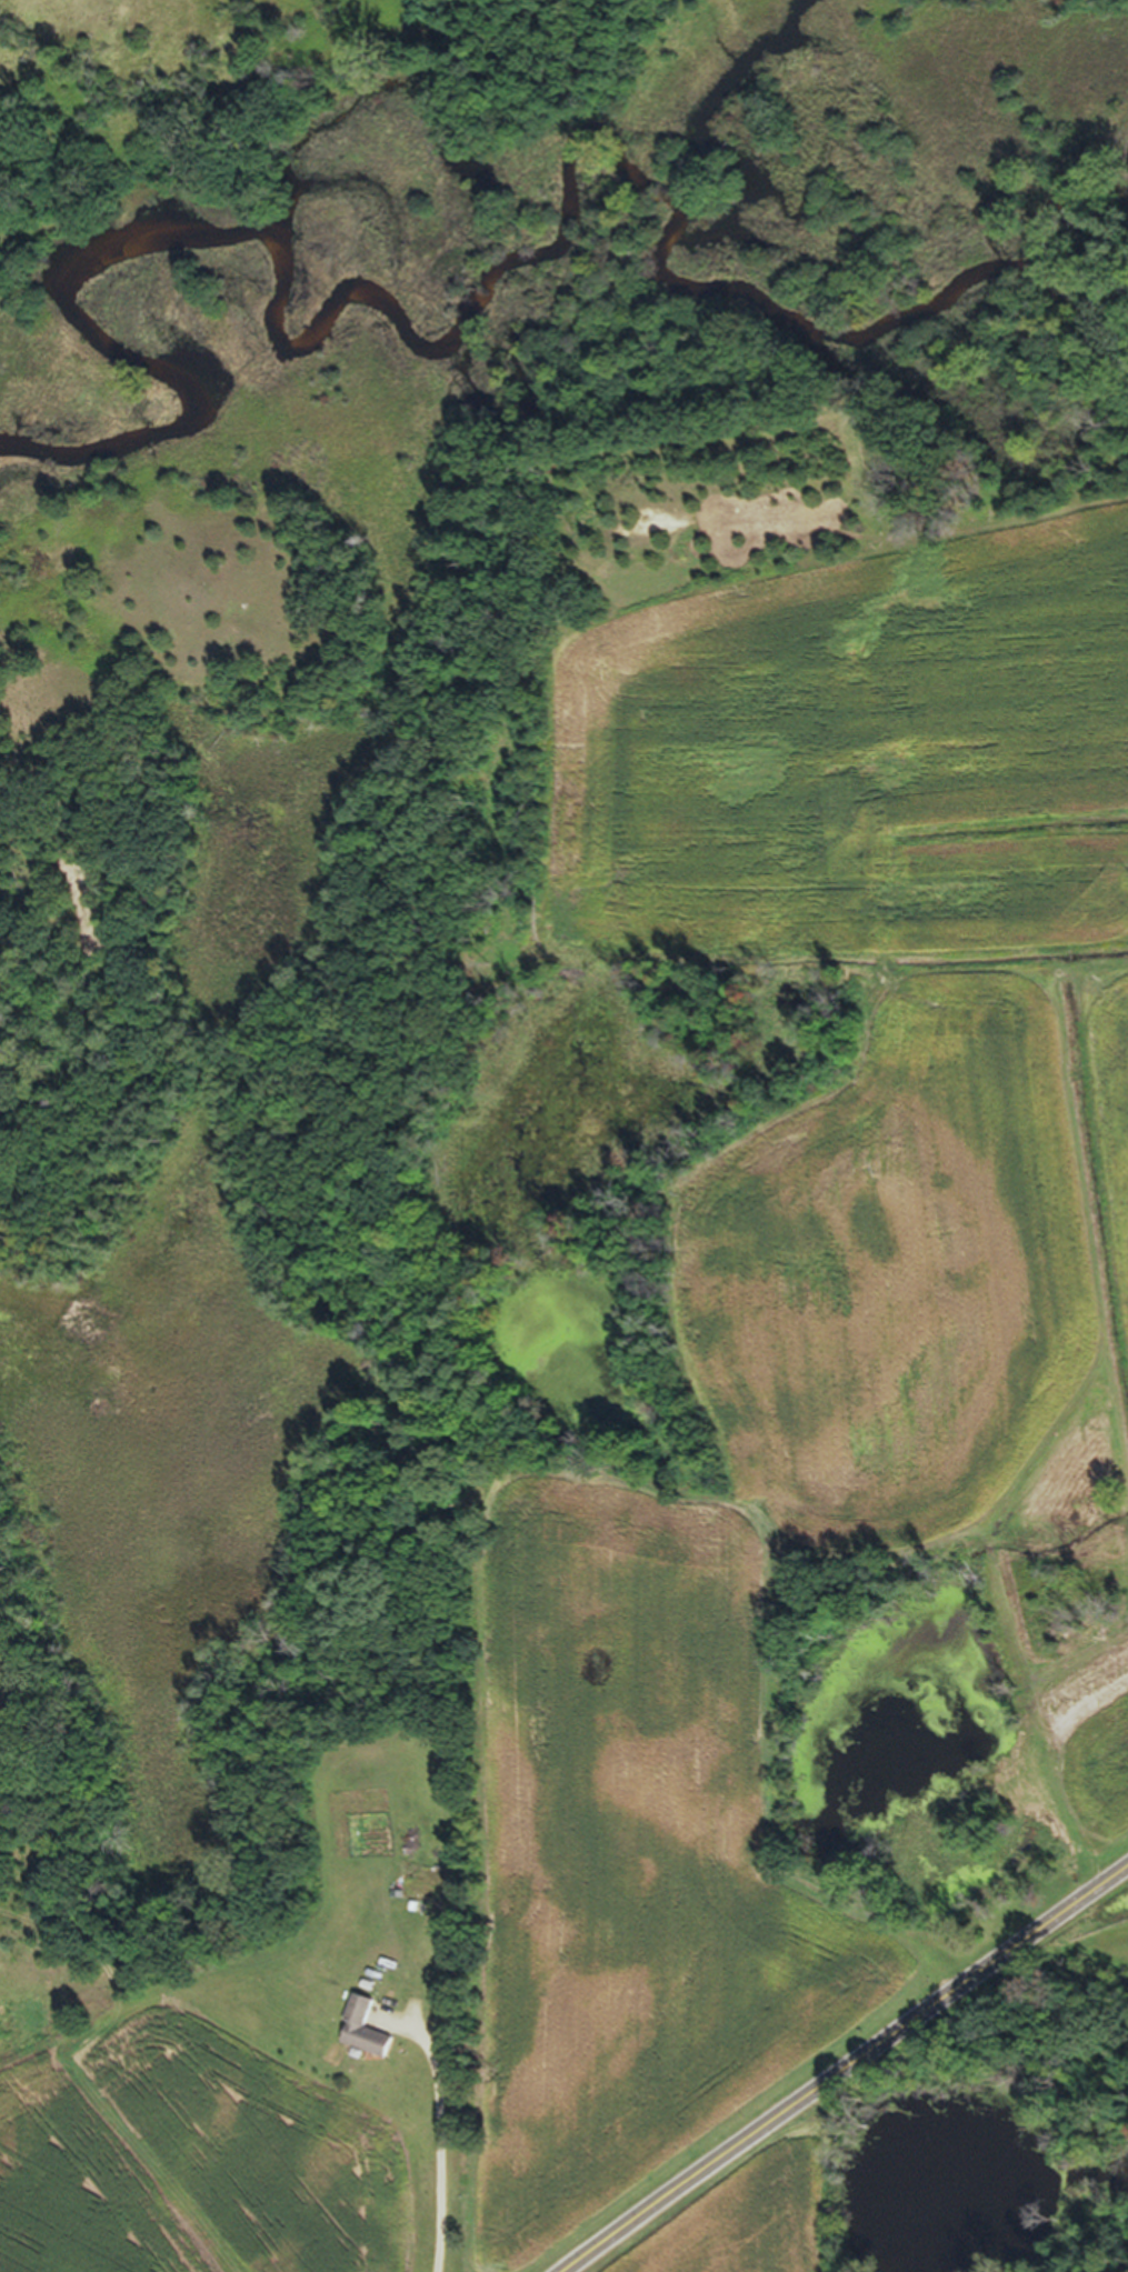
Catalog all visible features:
building: (361, 2035)
road: (845, 2069)
road: (433, 2135)

